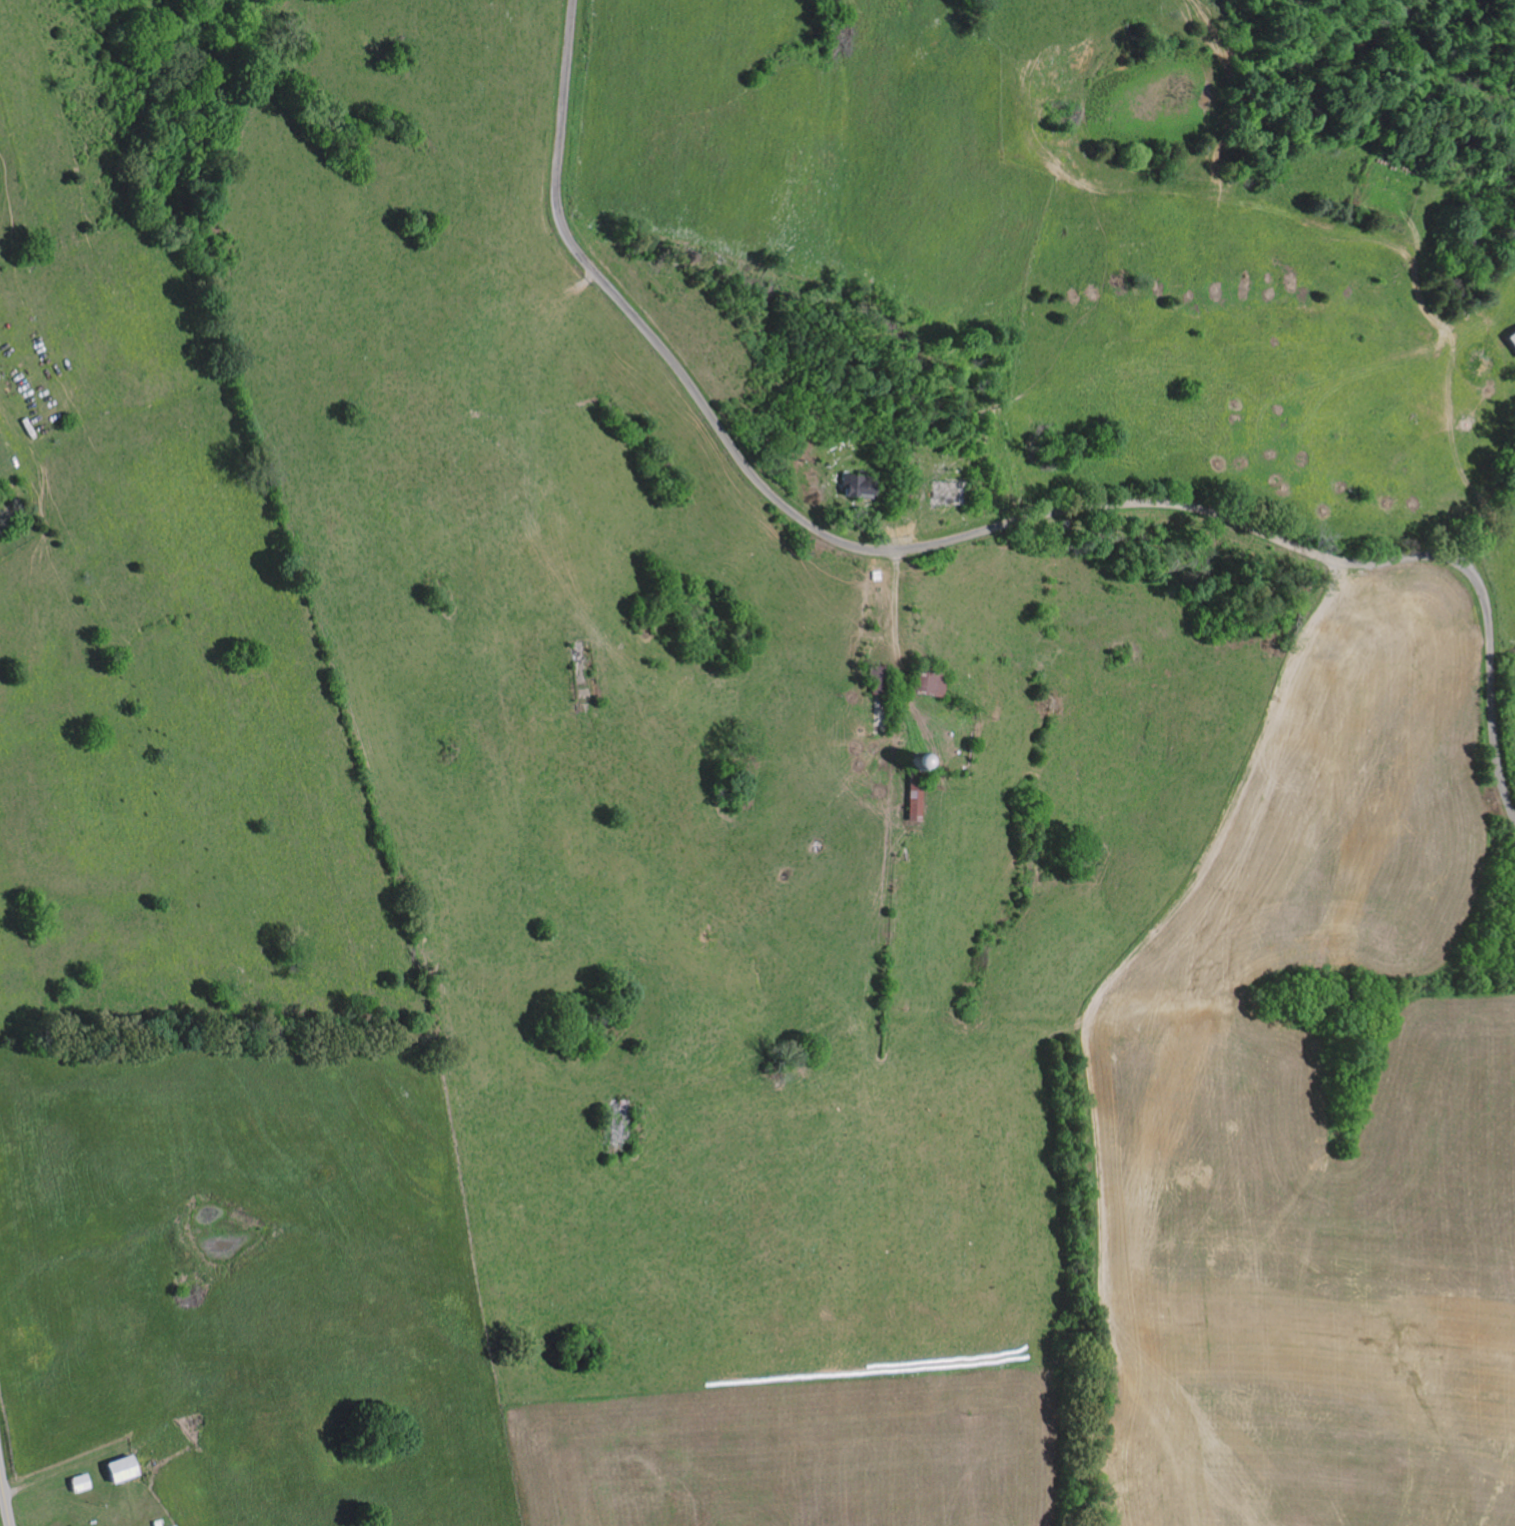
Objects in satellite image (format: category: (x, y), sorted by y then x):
building: (1511, 338)
building: (855, 483)
road: (960, 532)
road: (981, 1032)
building: (117, 1468)
building: (78, 1482)
road: (4, 1499)

